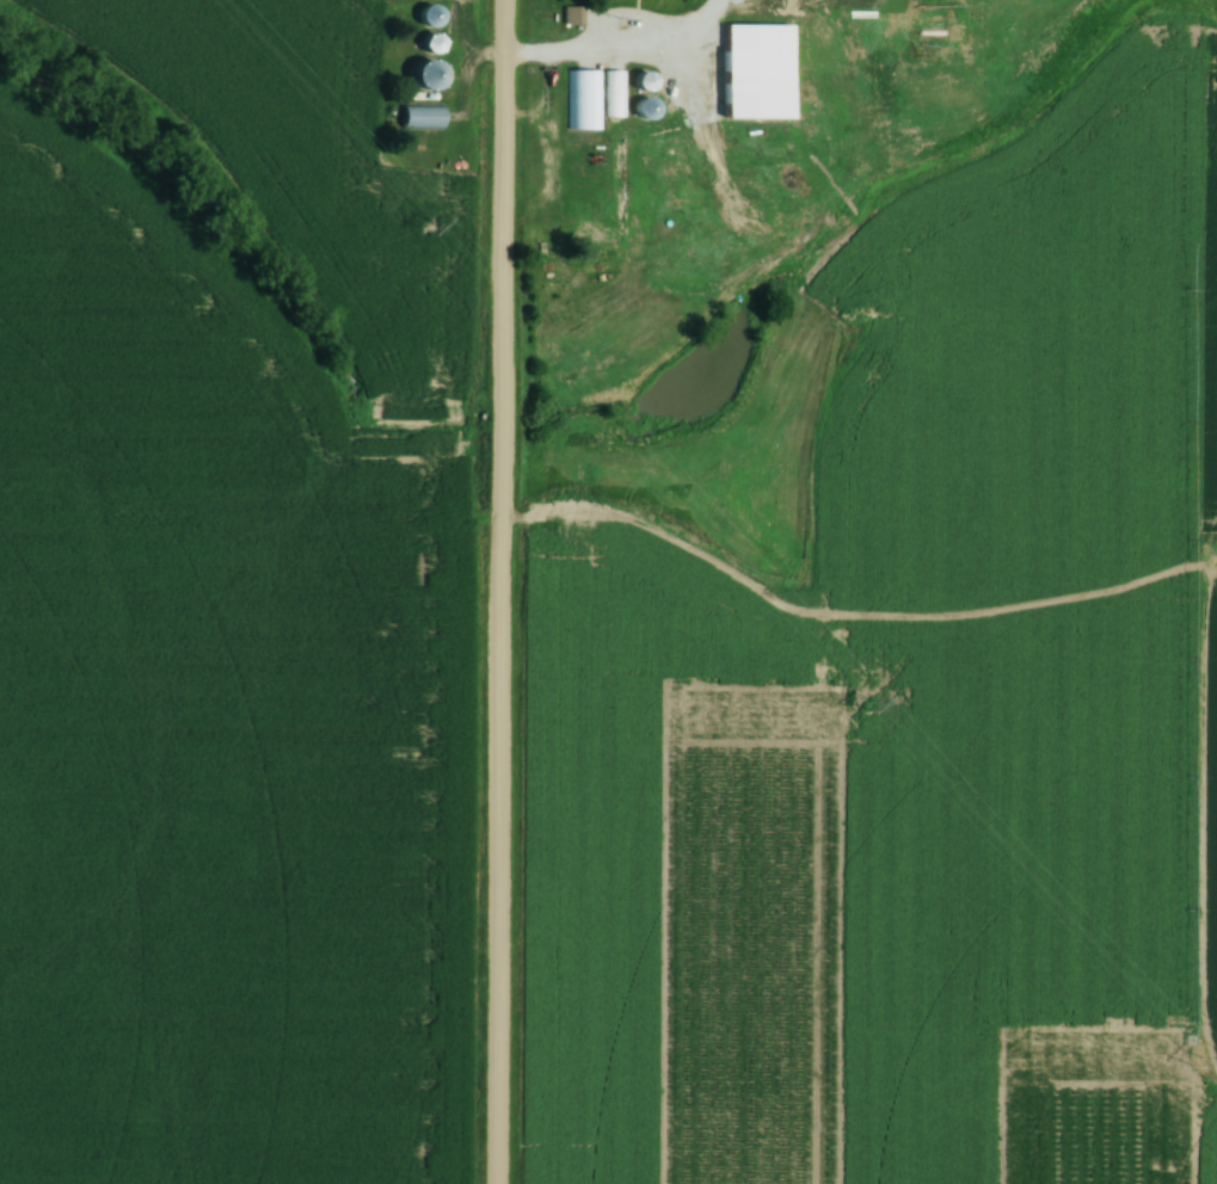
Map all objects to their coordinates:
building: (744, 4)
building: (572, 17)
road: (615, 47)
building: (760, 72)
building: (431, 74)
building: (615, 93)
building: (584, 99)
building: (424, 117)
power tower: (430, 226)
road: (498, 591)
power tower: (866, 705)
power tower: (1193, 1061)

